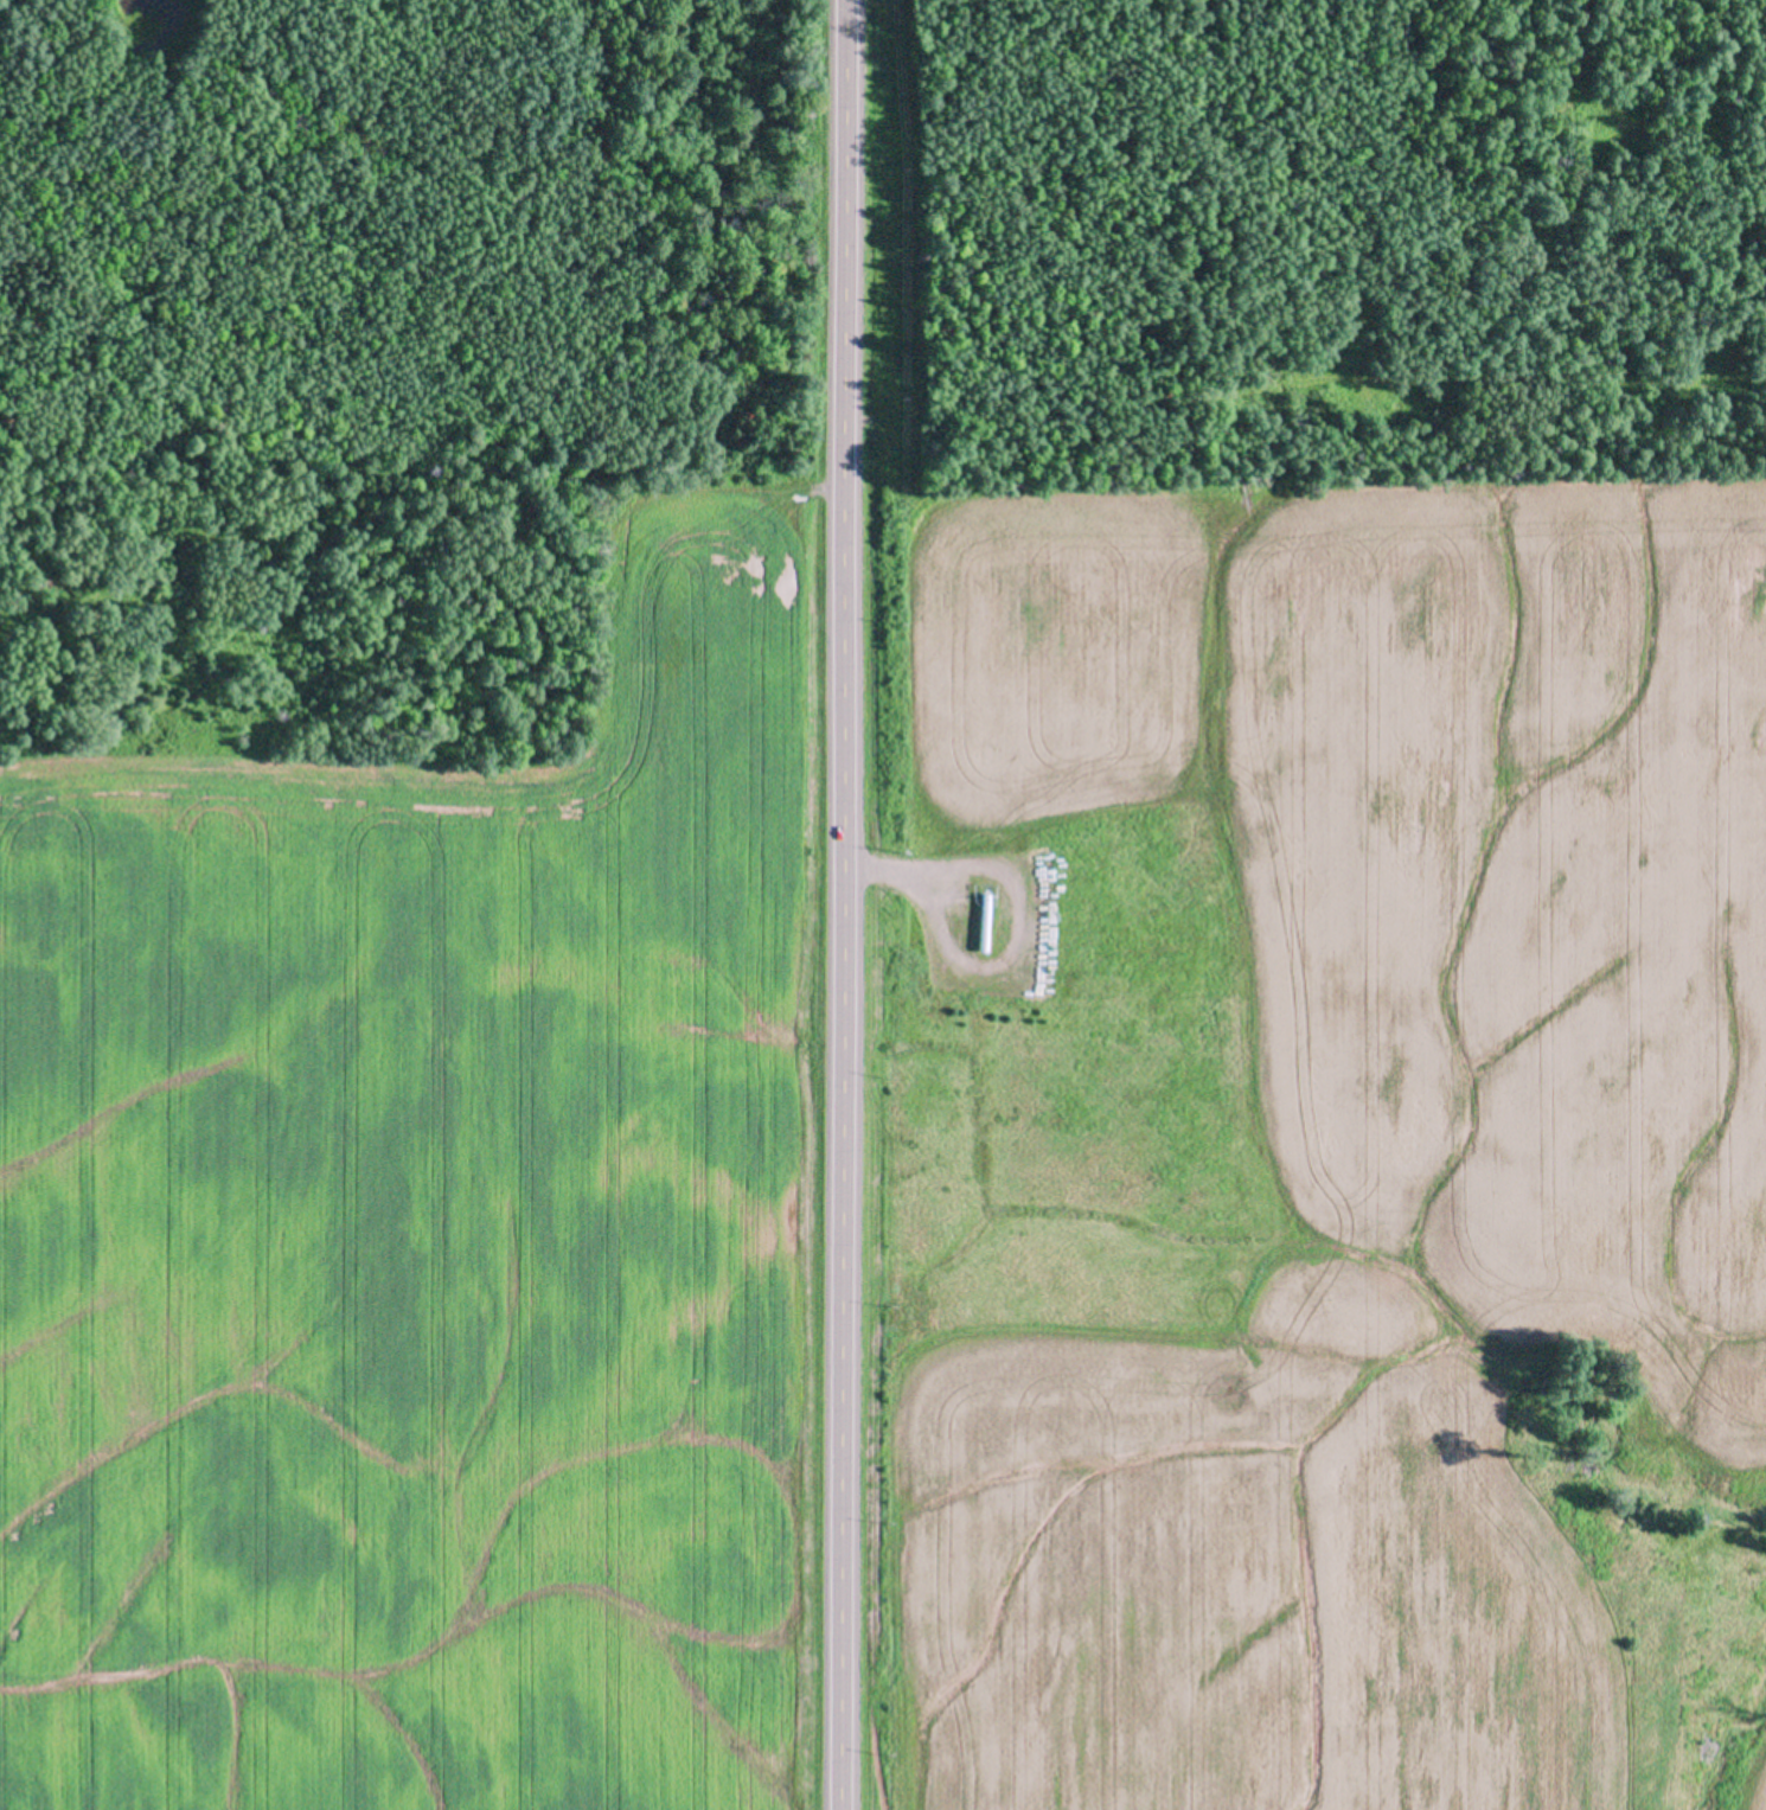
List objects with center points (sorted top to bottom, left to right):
road: (843, 904)

